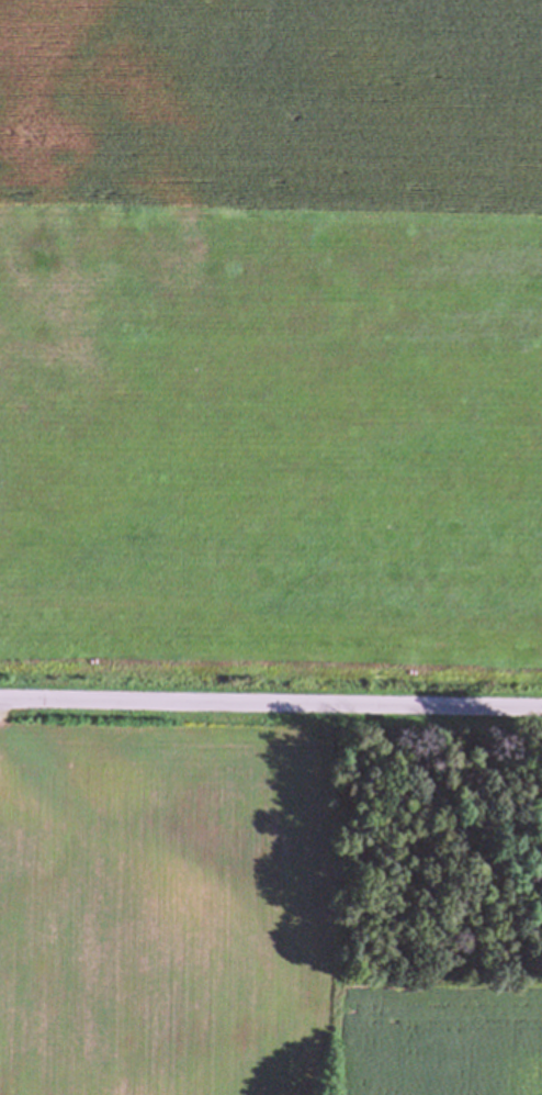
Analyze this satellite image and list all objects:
road: (271, 700)

